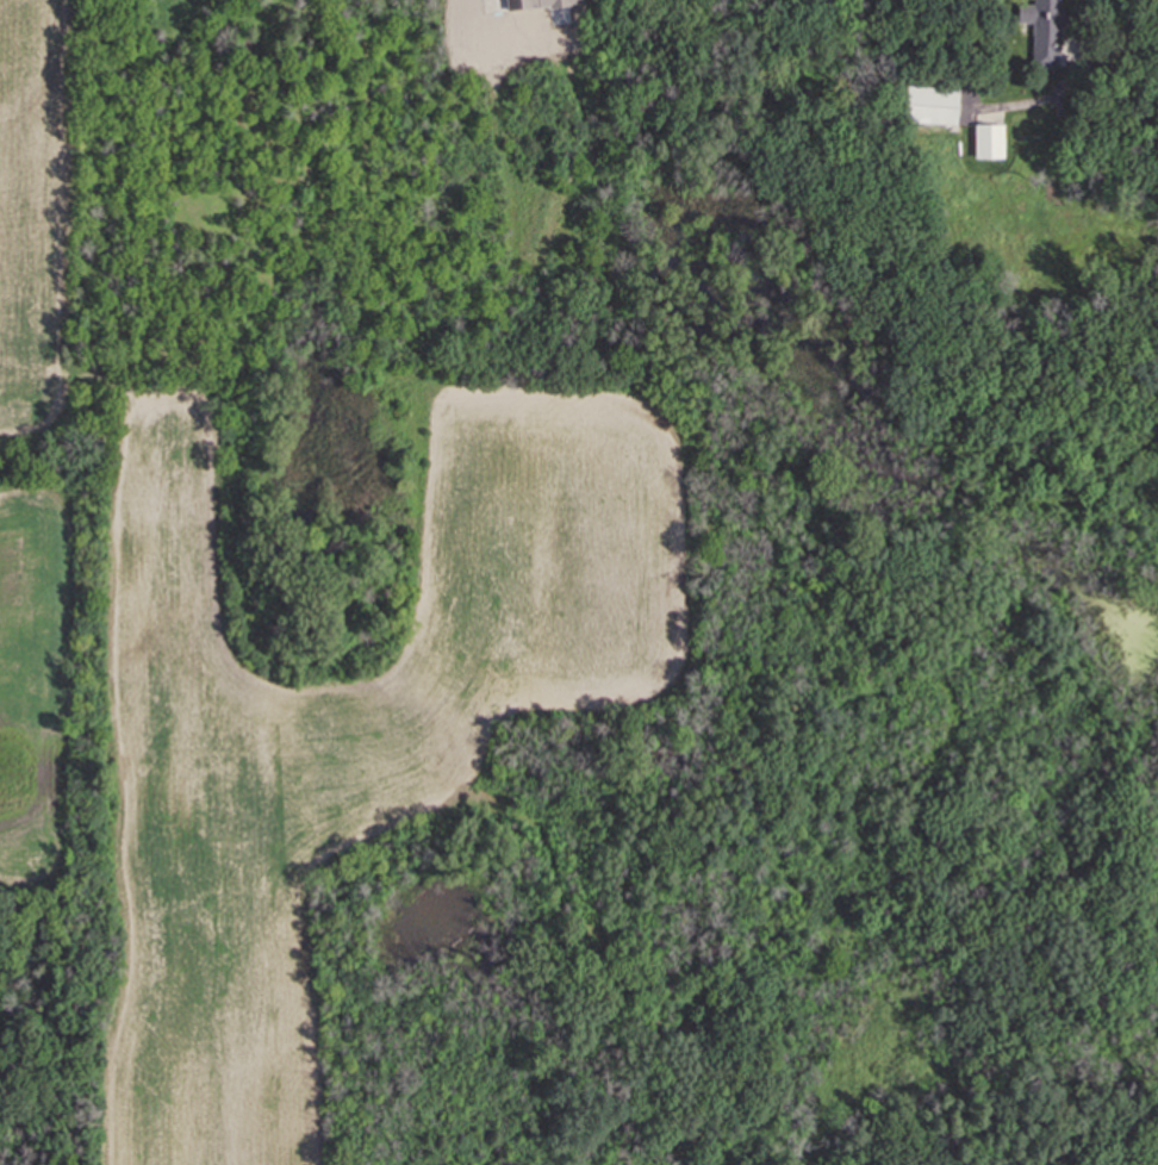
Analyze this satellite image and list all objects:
road: (1113, 6)
building: (1045, 32)
building: (932, 108)
building: (989, 144)

